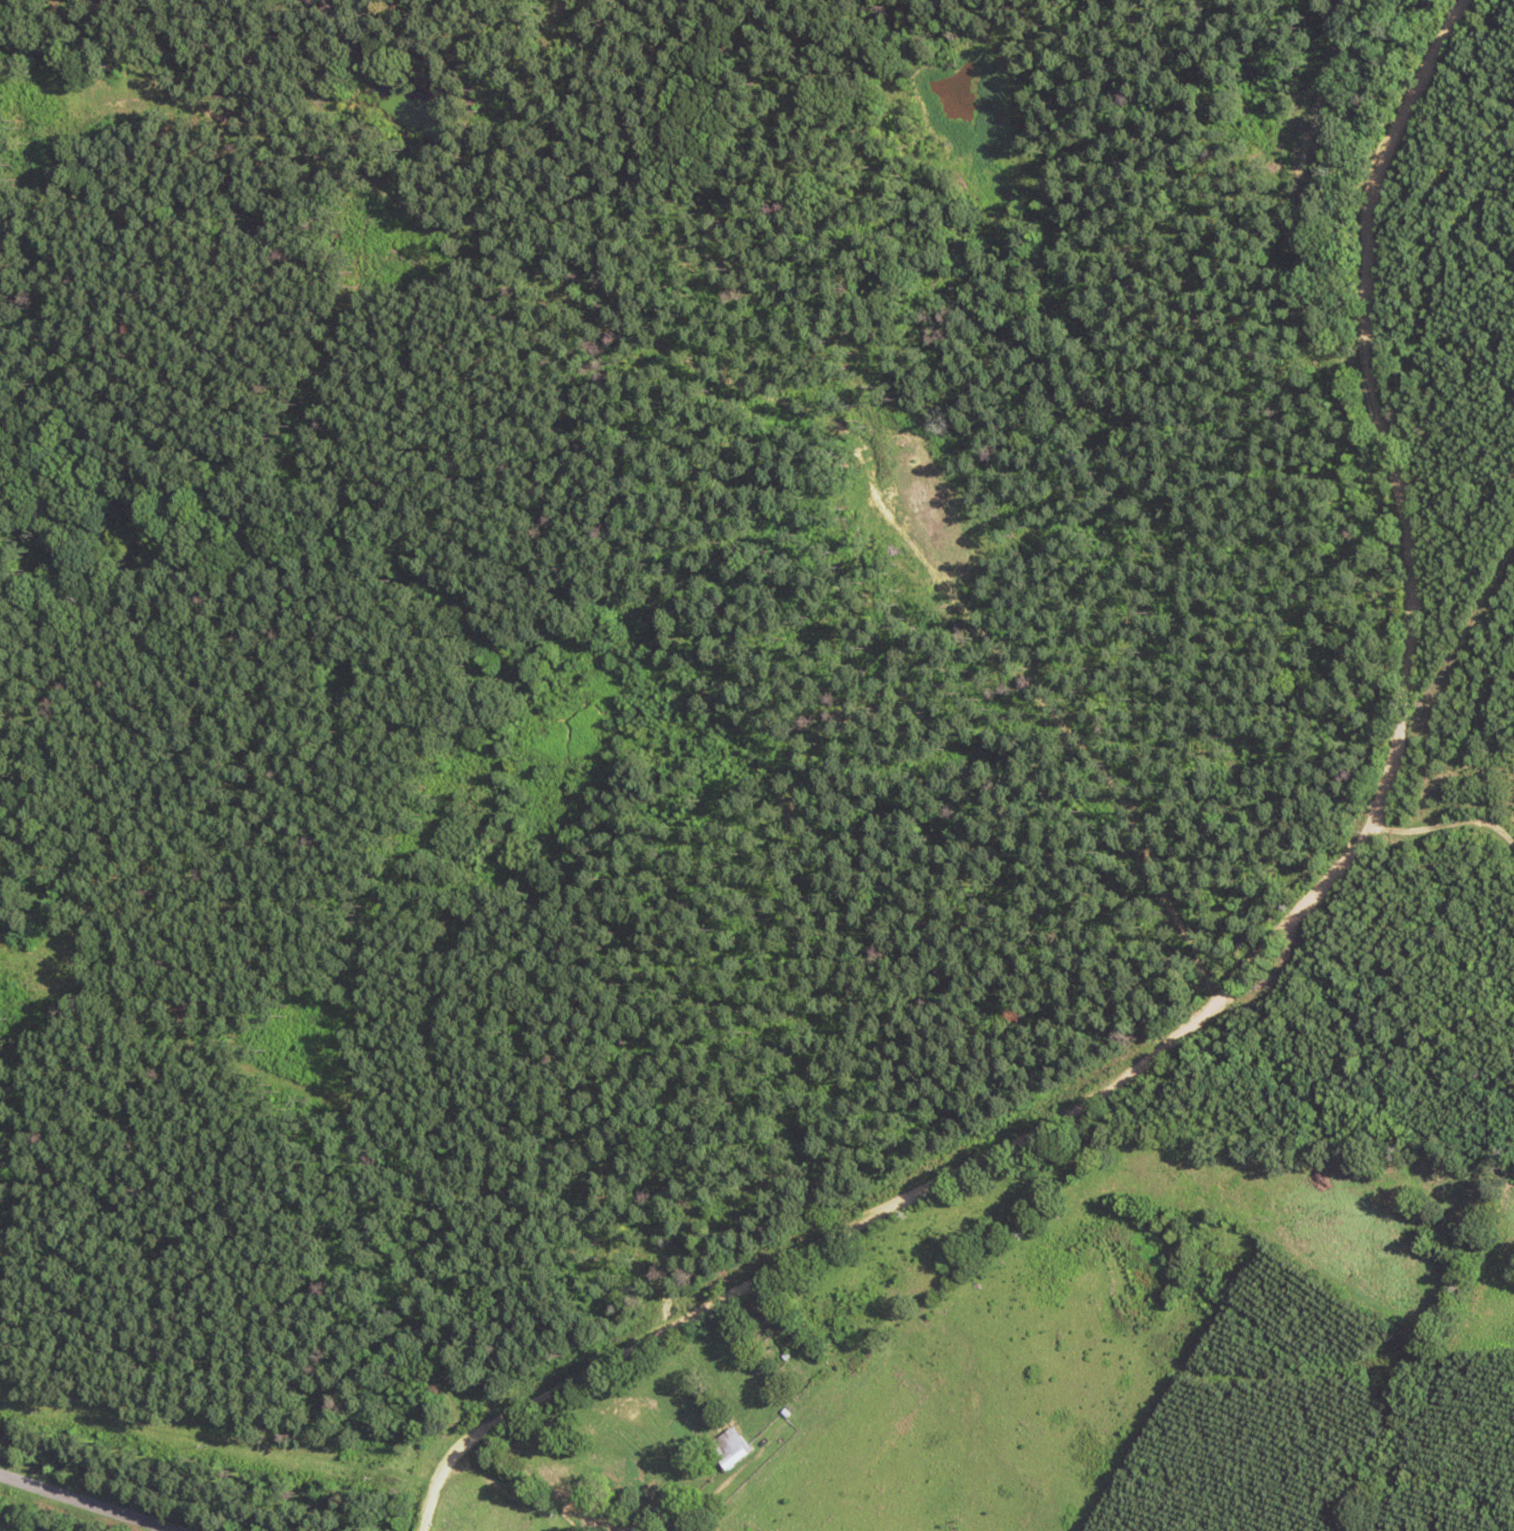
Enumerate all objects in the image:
road: (1259, 960)
building: (732, 1448)
road: (83, 1503)

